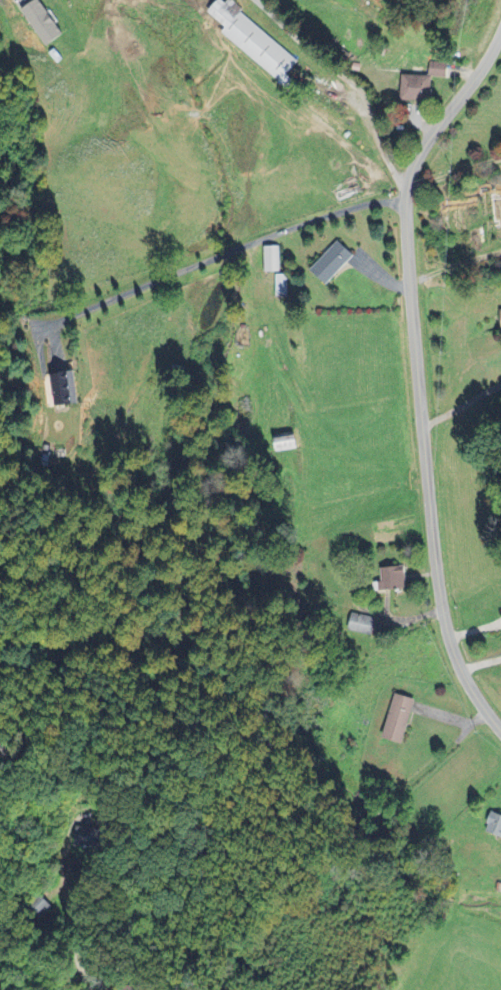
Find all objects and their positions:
building: (41, 23)
building: (256, 44)
building: (440, 70)
road: (347, 78)
building: (418, 89)
road: (453, 172)
road: (231, 250)
building: (271, 260)
building: (335, 263)
road: (454, 265)
building: (281, 286)
road: (414, 372)
road: (459, 403)
building: (287, 443)
building: (396, 579)
building: (400, 720)
building: (495, 825)
road: (74, 939)
road: (14, 966)

